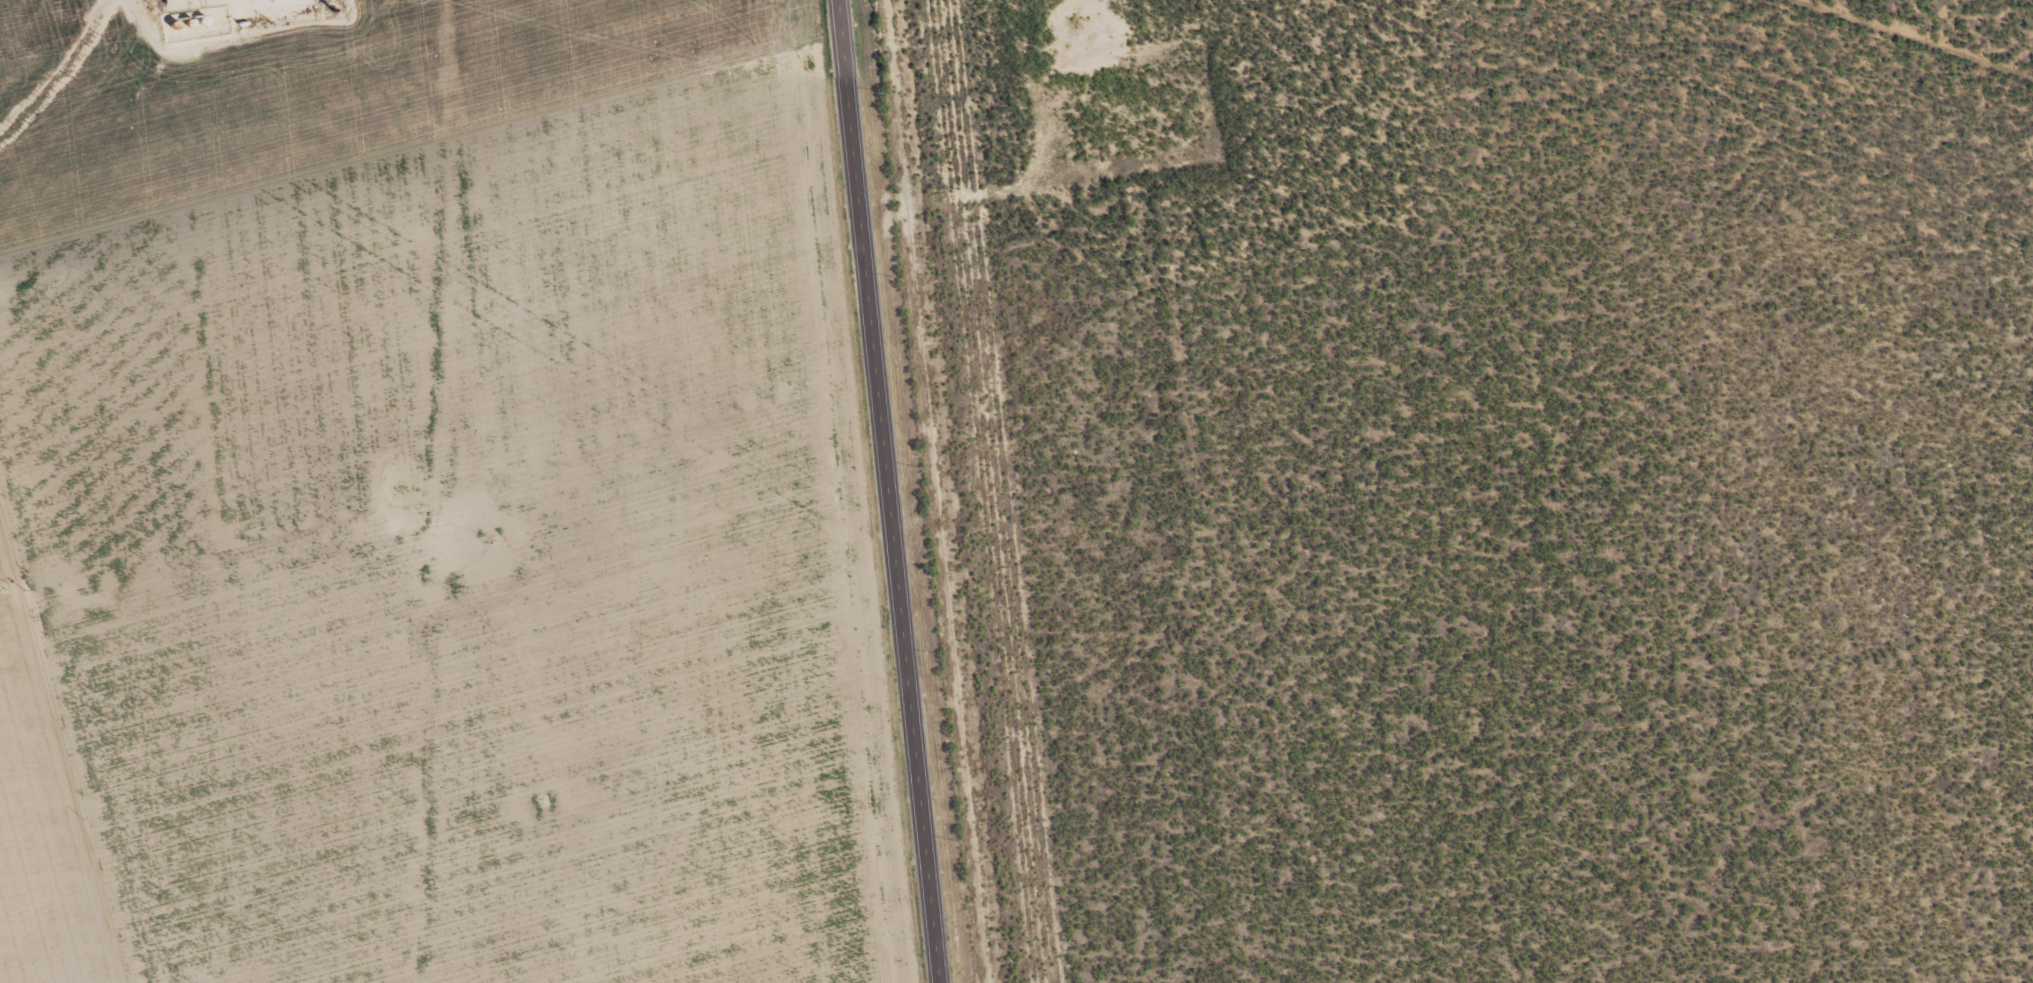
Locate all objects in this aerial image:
road: (890, 491)

